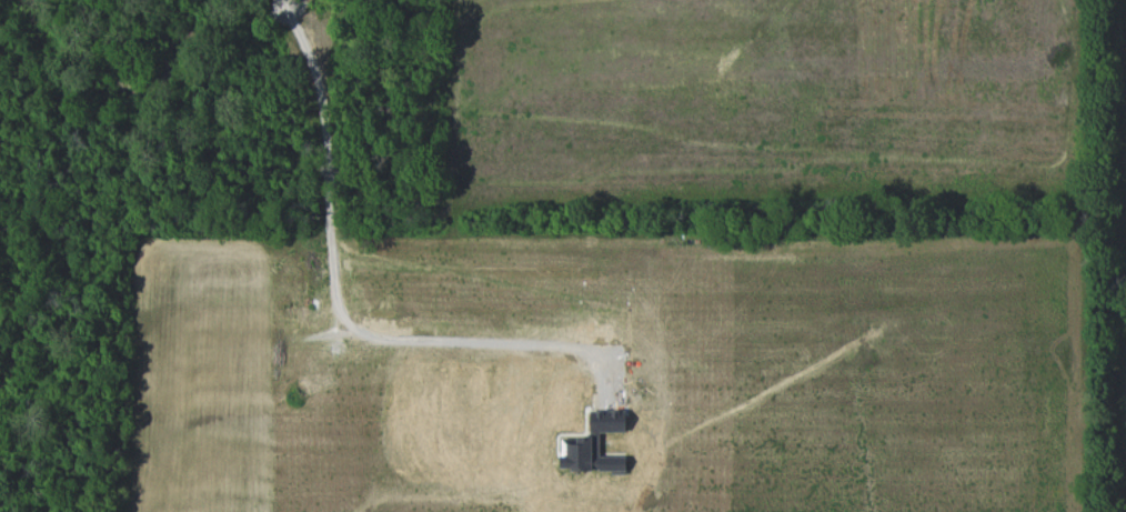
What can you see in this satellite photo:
park: (1114, 249)
road: (335, 285)

